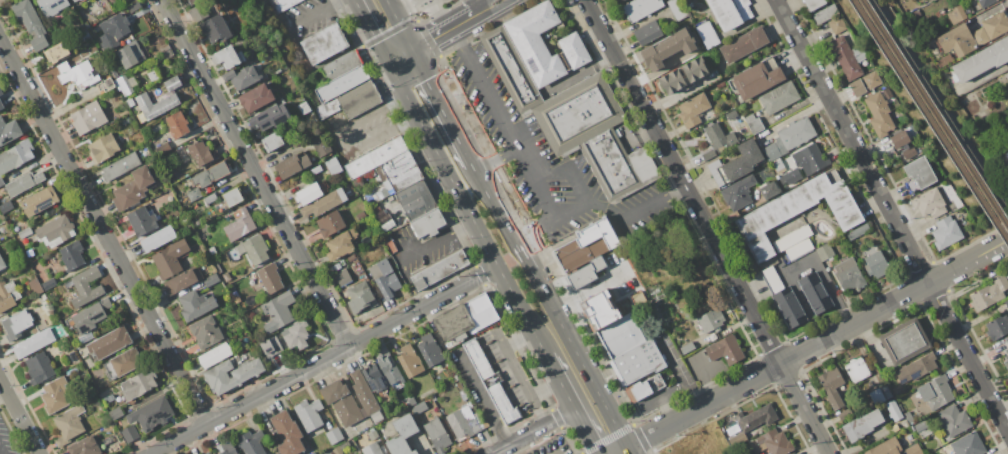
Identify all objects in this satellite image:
building: (73, 0)
building: (74, 0)
building: (112, 1)
building: (194, 1)
building: (985, 2)
building: (280, 4)
road: (478, 4)
building: (814, 4)
building: (52, 6)
building: (134, 6)
building: (641, 8)
building: (677, 9)
road: (316, 10)
building: (198, 12)
building: (729, 13)
building: (826, 14)
building: (956, 14)
parking lot: (307, 17)
road: (396, 21)
building: (31, 23)
building: (837, 25)
road: (439, 26)
road: (460, 28)
building: (216, 29)
building: (114, 31)
building: (648, 32)
road: (371, 33)
building: (973, 34)
building: (708, 35)
building: (536, 42)
building: (322, 44)
traffic signals: (407, 44)
building: (744, 44)
road: (409, 50)
building: (574, 50)
building: (58, 52)
building: (662, 53)
building: (130, 54)
road: (398, 55)
traffic signals: (412, 56)
building: (228, 57)
building: (847, 57)
building: (37, 59)
road: (400, 61)
building: (945, 61)
building: (981, 61)
building: (342, 65)
traffic signals: (389, 66)
building: (511, 68)
building: (77, 73)
building: (113, 73)
building: (683, 75)
building: (1007, 75)
building: (152, 76)
building: (242, 77)
building: (756, 78)
building: (872, 79)
building: (132, 81)
building: (172, 83)
building: (342, 83)
building: (951, 83)
building: (720, 84)
building: (106, 85)
building: (123, 85)
building: (857, 87)
building: (1, 92)
building: (256, 97)
building: (779, 97)
building: (357, 100)
building: (130, 102)
building: (157, 103)
building: (1, 105)
road: (943, 107)
park: (931, 108)
building: (693, 109)
road: (441, 110)
railway: (934, 113)
building: (731, 114)
building: (879, 114)
building: (88, 117)
building: (270, 117)
railway: (929, 121)
building: (754, 123)
building: (177, 125)
building: (8, 130)
building: (912, 131)
building: (595, 136)
building: (720, 137)
building: (789, 138)
building: (899, 138)
road: (348, 139)
building: (272, 141)
road: (514, 144)
building: (102, 148)
building: (162, 148)
building: (201, 152)
building: (709, 155)
building: (1006, 155)
building: (16, 156)
building: (376, 157)
building: (810, 159)
road: (495, 160)
building: (743, 160)
building: (292, 164)
building: (778, 165)
building: (121, 166)
building: (316, 169)
building: (401, 170)
road: (255, 173)
building: (718, 173)
building: (211, 174)
building: (919, 174)
building: (792, 175)
building: (24, 182)
building: (1, 183)
road: (577, 184)
building: (133, 188)
building: (769, 190)
building: (385, 192)
building: (738, 192)
building: (308, 193)
building: (194, 194)
building: (232, 197)
building: (210, 198)
building: (417, 199)
building: (40, 201)
building: (324, 203)
road: (491, 203)
building: (930, 203)
building: (6, 207)
building: (375, 209)
road: (467, 210)
road: (636, 211)
building: (798, 211)
building: (378, 215)
building: (360, 216)
road: (891, 216)
building: (384, 219)
building: (142, 220)
building: (428, 223)
building: (240, 224)
building: (330, 224)
building: (388, 225)
road: (706, 226)
building: (56, 231)
building: (24, 232)
road: (102, 232)
building: (858, 232)
building: (946, 232)
building: (158, 238)
building: (792, 238)
road: (437, 241)
building: (340, 244)
building: (586, 245)
building: (391, 246)
building: (254, 249)
building: (799, 249)
building: (825, 252)
building: (72, 255)
building: (170, 258)
building: (875, 261)
road: (968, 262)
building: (2, 263)
park: (1006, 265)
building: (438, 270)
building: (587, 272)
building: (849, 274)
building: (227, 276)
building: (343, 277)
building: (270, 278)
building: (384, 278)
building: (211, 279)
building: (772, 280)
building: (181, 281)
building: (49, 283)
road: (408, 284)
building: (36, 286)
building: (86, 286)
building: (815, 293)
building: (989, 294)
building: (8, 295)
building: (360, 296)
building: (1006, 303)
building: (195, 304)
building: (789, 307)
building: (278, 311)
building: (480, 312)
building: (91, 316)
building: (711, 319)
building: (18, 323)
building: (454, 323)
building: (997, 327)
building: (206, 331)
building: (296, 335)
building: (621, 335)
building: (711, 336)
building: (1006, 340)
building: (33, 342)
building: (109, 342)
building: (905, 342)
road: (570, 345)
building: (271, 346)
building: (686, 348)
building: (724, 349)
building: (430, 350)
building: (215, 355)
building: (1006, 357)
road: (324, 360)
building: (410, 360)
building: (639, 361)
building: (123, 363)
road: (777, 365)
building: (388, 367)
building: (39, 368)
building: (917, 368)
building: (857, 369)
road: (516, 370)
road: (678, 373)
building: (232, 374)
building: (1007, 375)
building: (373, 377)
building: (831, 379)
road: (560, 381)
building: (491, 382)
building: (139, 384)
building: (647, 387)
building: (885, 392)
building: (936, 392)
building: (55, 395)
road: (4, 396)
building: (464, 396)
building: (350, 398)
road: (482, 398)
building: (834, 400)
building: (412, 401)
building: (419, 407)
building: (893, 410)
building: (116, 413)
building: (150, 413)
building: (309, 414)
building: (844, 414)
road: (19, 416)
building: (376, 416)
road: (559, 416)
building: (757, 417)
building: (909, 417)
building: (954, 420)
building: (464, 422)
building: (68, 424)
building: (862, 425)
building: (895, 427)
building: (922, 427)
road: (586, 430)
building: (734, 431)
building: (129, 433)
building: (287, 433)
building: (751, 433)
building: (925, 433)
building: (373, 435)
building: (402, 435)
building: (437, 435)
building: (334, 436)
road: (518, 439)
parking lot: (7, 440)
building: (251, 442)
building: (771, 442)
building: (972, 444)
building: (344, 446)
building: (84, 447)
building: (886, 447)
building: (951, 447)
building: (228, 448)
building: (372, 449)
building: (913, 449)
building: (337, 450)
road: (621, 451)
road: (628, 451)
building: (206, 453)
building: (208, 453)

